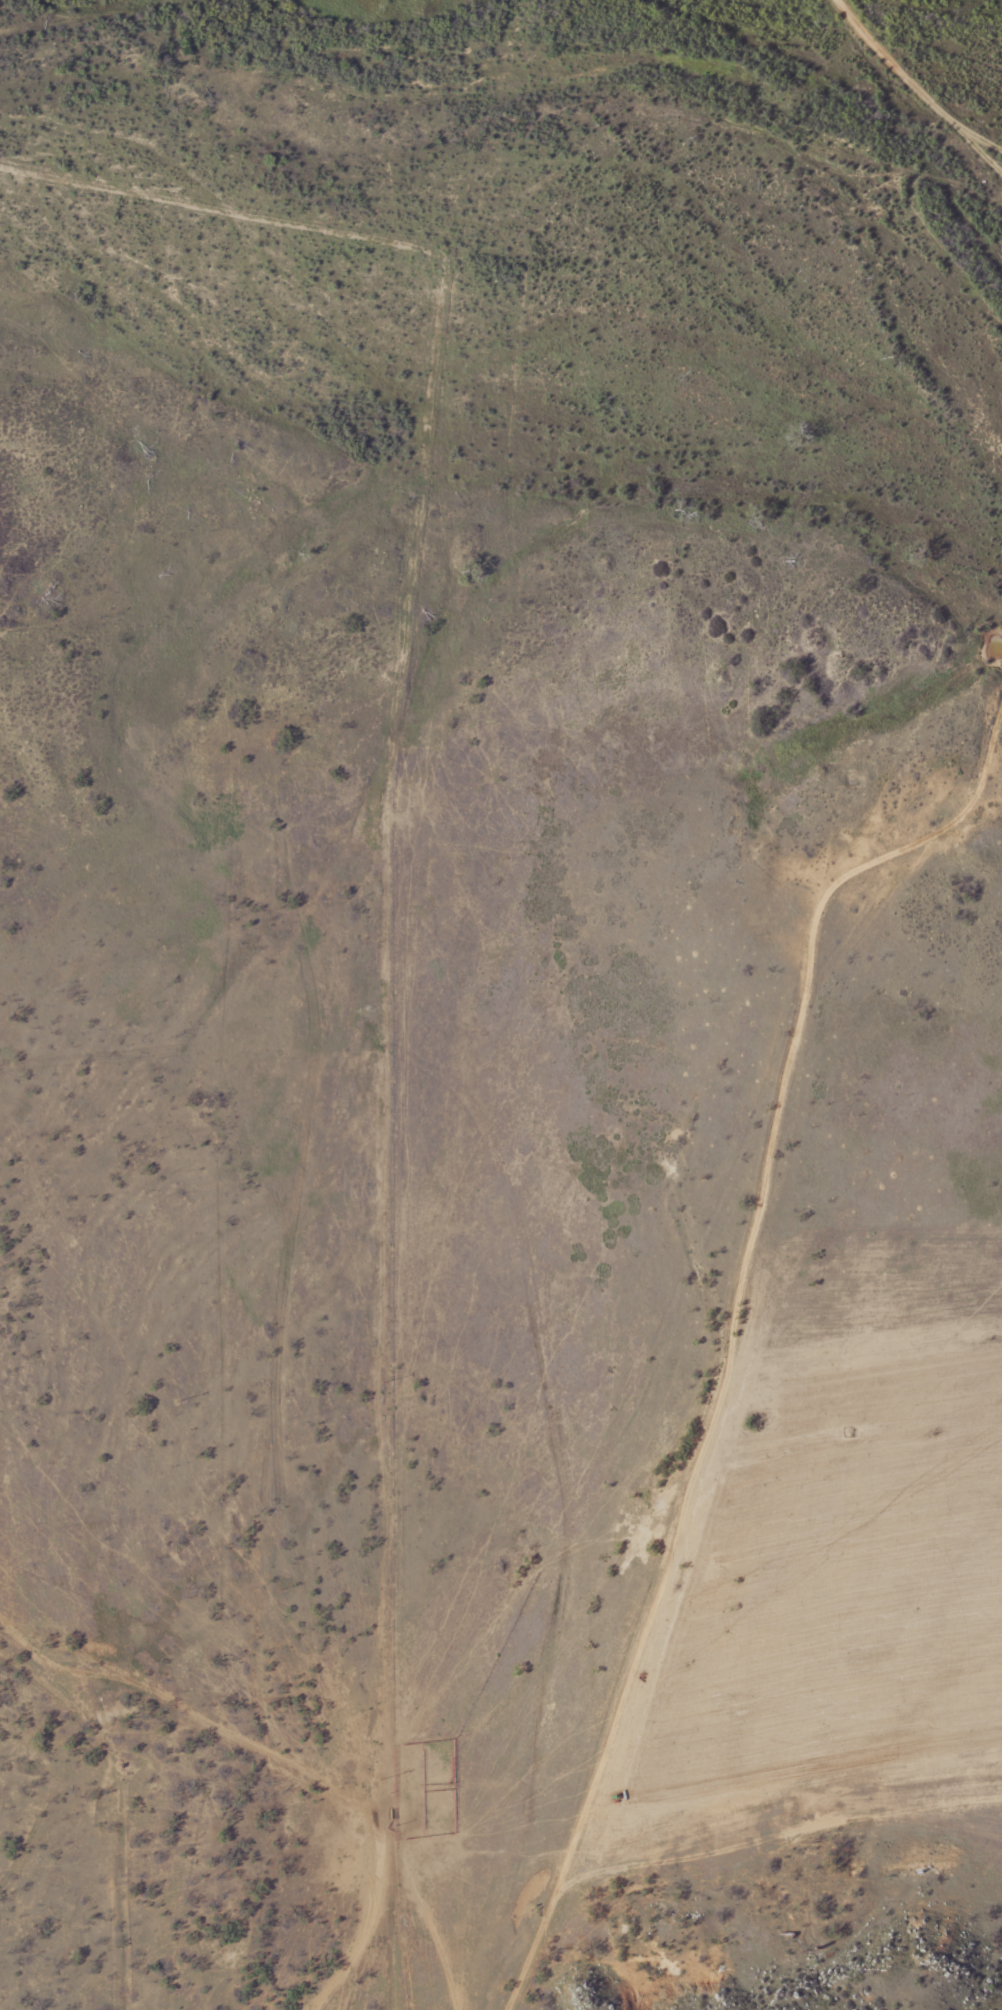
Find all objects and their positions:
river: (391, 8)

